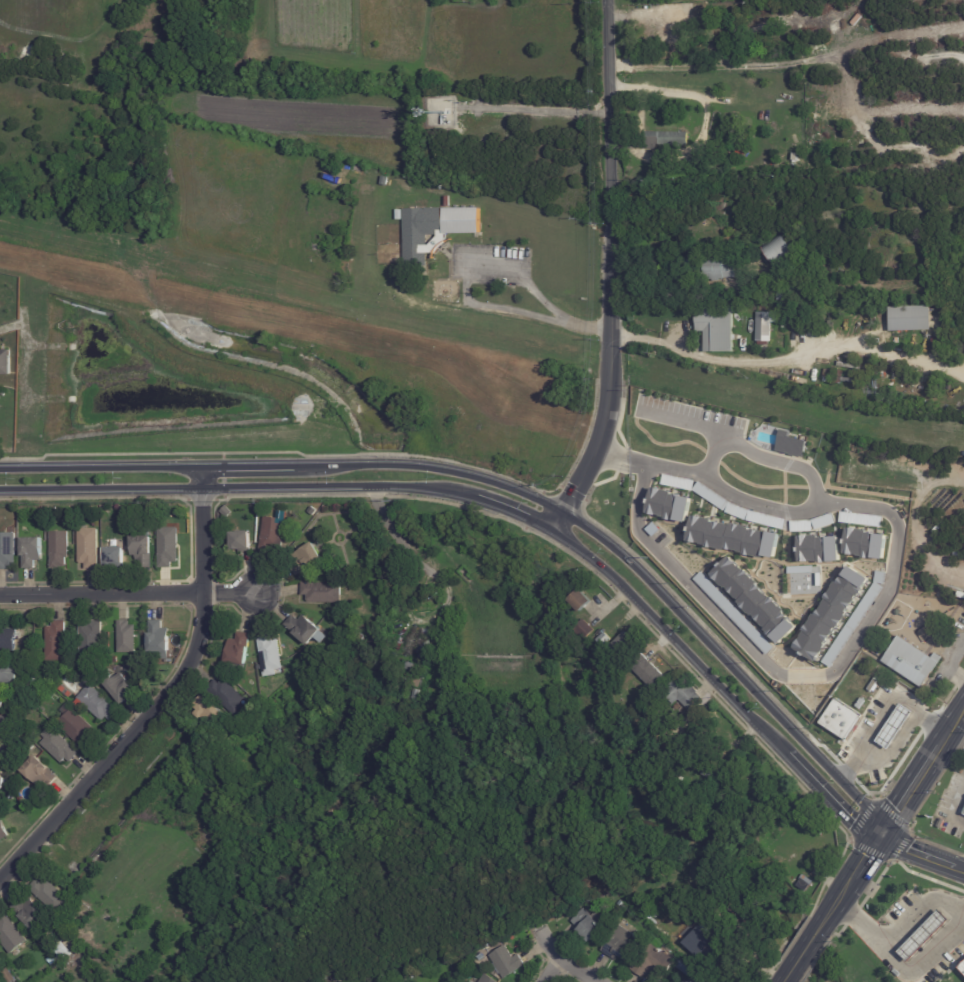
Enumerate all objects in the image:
building: (671, 20)
road: (268, 22)
road: (68, 36)
road: (704, 102)
building: (718, 127)
building: (667, 140)
building: (335, 167)
building: (352, 194)
building: (436, 231)
building: (755, 232)
building: (776, 250)
building: (712, 270)
road: (610, 273)
road: (234, 274)
building: (797, 292)
building: (784, 296)
road: (466, 299)
road: (673, 299)
building: (915, 320)
building: (716, 329)
building: (766, 329)
road: (788, 359)
building: (6, 364)
building: (848, 366)
building: (844, 379)
building: (5, 394)
building: (0, 399)
building: (0, 406)
road: (785, 406)
road: (702, 427)
building: (789, 444)
road: (775, 462)
building: (677, 482)
road: (512, 487)
building: (669, 505)
building: (125, 509)
road: (502, 509)
building: (313, 511)
building: (228, 512)
building: (748, 515)
building: (854, 518)
road: (911, 520)
building: (772, 521)
building: (24, 529)
building: (274, 534)
building: (733, 538)
building: (243, 540)
building: (865, 544)
building: (144, 546)
building: (169, 546)
building: (89, 548)
building: (60, 549)
building: (819, 549)
building: (7, 550)
building: (32, 552)
building: (115, 556)
building: (308, 559)
road: (129, 592)
building: (323, 592)
building: (754, 599)
road: (878, 600)
building: (581, 601)
building: (733, 613)
building: (831, 613)
building: (379, 625)
building: (852, 625)
building: (307, 629)
building: (586, 629)
building: (127, 637)
building: (8, 639)
building: (161, 639)
building: (605, 639)
building: (92, 640)
building: (56, 642)
building: (426, 644)
building: (623, 650)
building: (240, 651)
building: (271, 655)
building: (115, 660)
building: (384, 660)
building: (913, 662)
road: (947, 664)
building: (412, 665)
building: (87, 672)
building: (647, 672)
building: (8, 673)
building: (401, 676)
building: (120, 687)
building: (31, 690)
building: (684, 693)
building: (414, 695)
building: (229, 696)
road: (164, 698)
building: (4, 700)
building: (98, 703)
building: (210, 711)
building: (22, 715)
building: (842, 720)
building: (5, 726)
building: (894, 726)
road: (952, 727)
building: (78, 729)
road: (955, 740)
road: (874, 741)
building: (59, 746)
building: (10, 748)
building: (710, 770)
building: (40, 773)
building: (0, 774)
building: (1, 783)
road: (910, 791)
building: (962, 811)
building: (3, 831)
traffic signals: (882, 837)
park: (336, 847)
road: (923, 853)
road: (868, 857)
building: (52, 896)
road: (840, 899)
road: (920, 912)
building: (31, 913)
building: (569, 913)
building: (588, 926)
building: (11, 935)
building: (919, 935)
building: (59, 936)
building: (705, 940)
building: (622, 945)
road: (808, 947)
building: (55, 950)
road: (564, 960)
building: (506, 963)
building: (654, 963)
road: (901, 964)
building: (961, 966)
building: (407, 968)
building: (686, 968)
road: (549, 969)
building: (9, 976)
building: (455, 976)
road: (787, 977)
building: (488, 979)
building: (468, 981)
building: (684, 981)
building: (689, 981)
building: (697, 981)
building: (701, 981)

